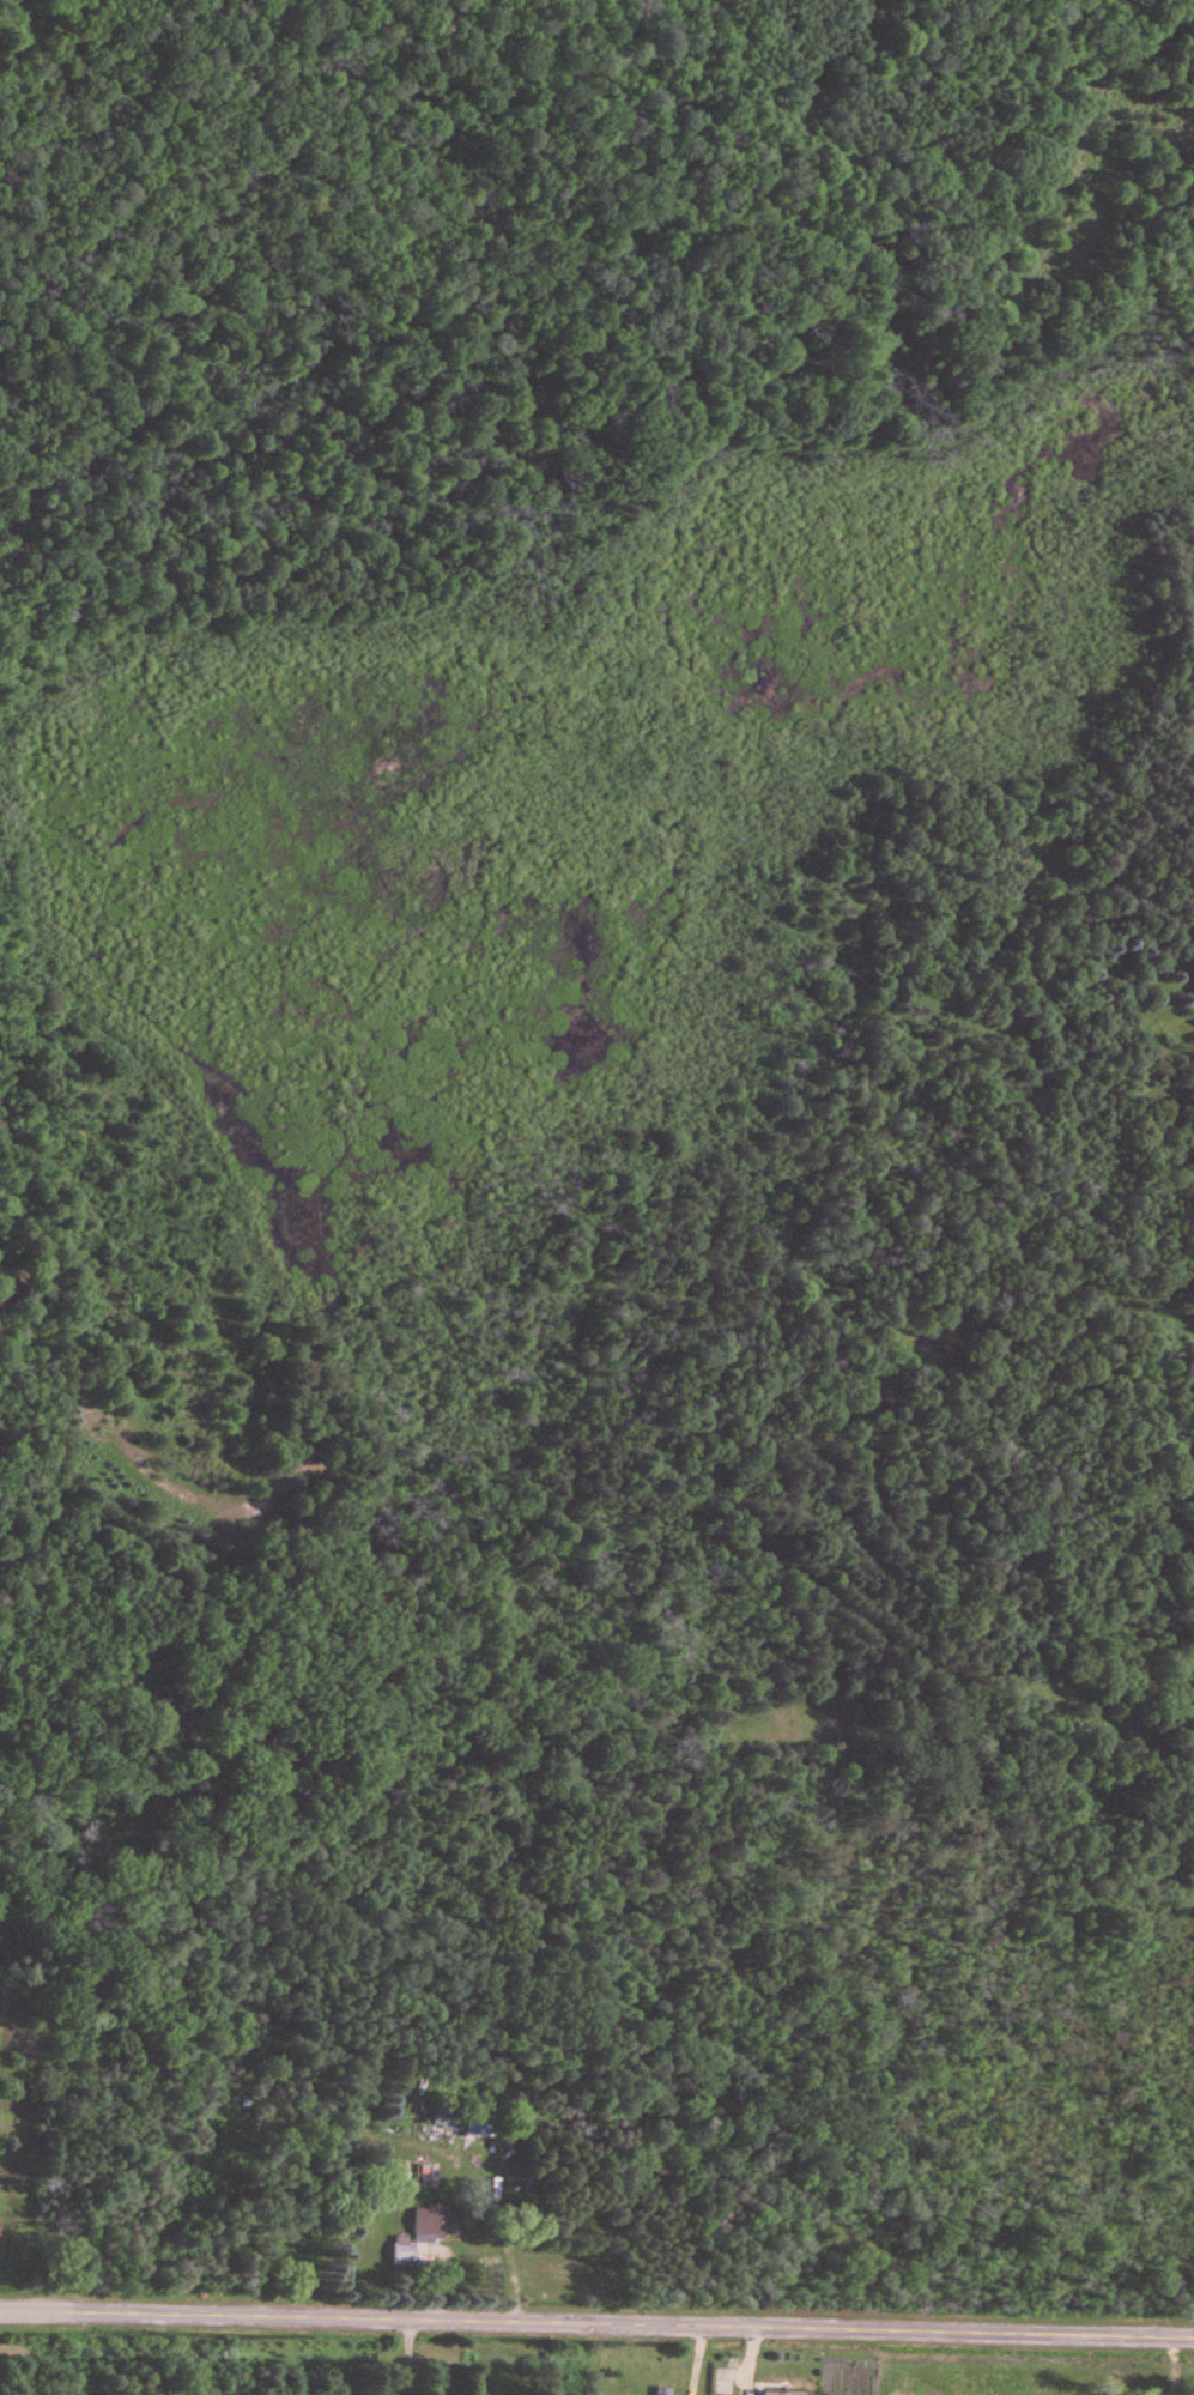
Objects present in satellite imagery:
building: (459, 2123)
building: (435, 2222)
building: (404, 2255)
road: (22, 2310)
road: (618, 2324)
road: (42, 2353)
building: (662, 2390)
building: (784, 2393)

